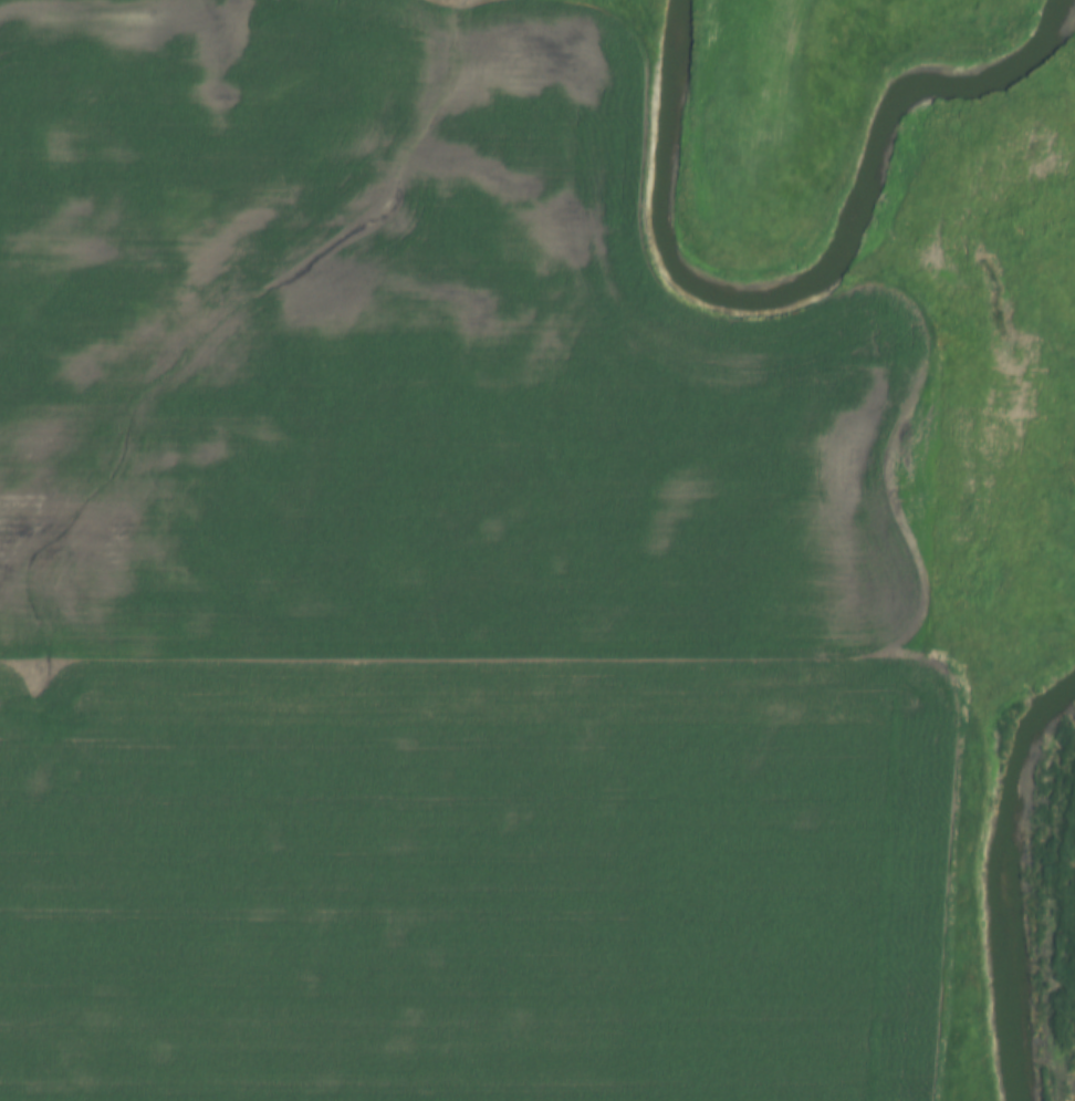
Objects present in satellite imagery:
river: (812, 250)
river: (1029, 911)

